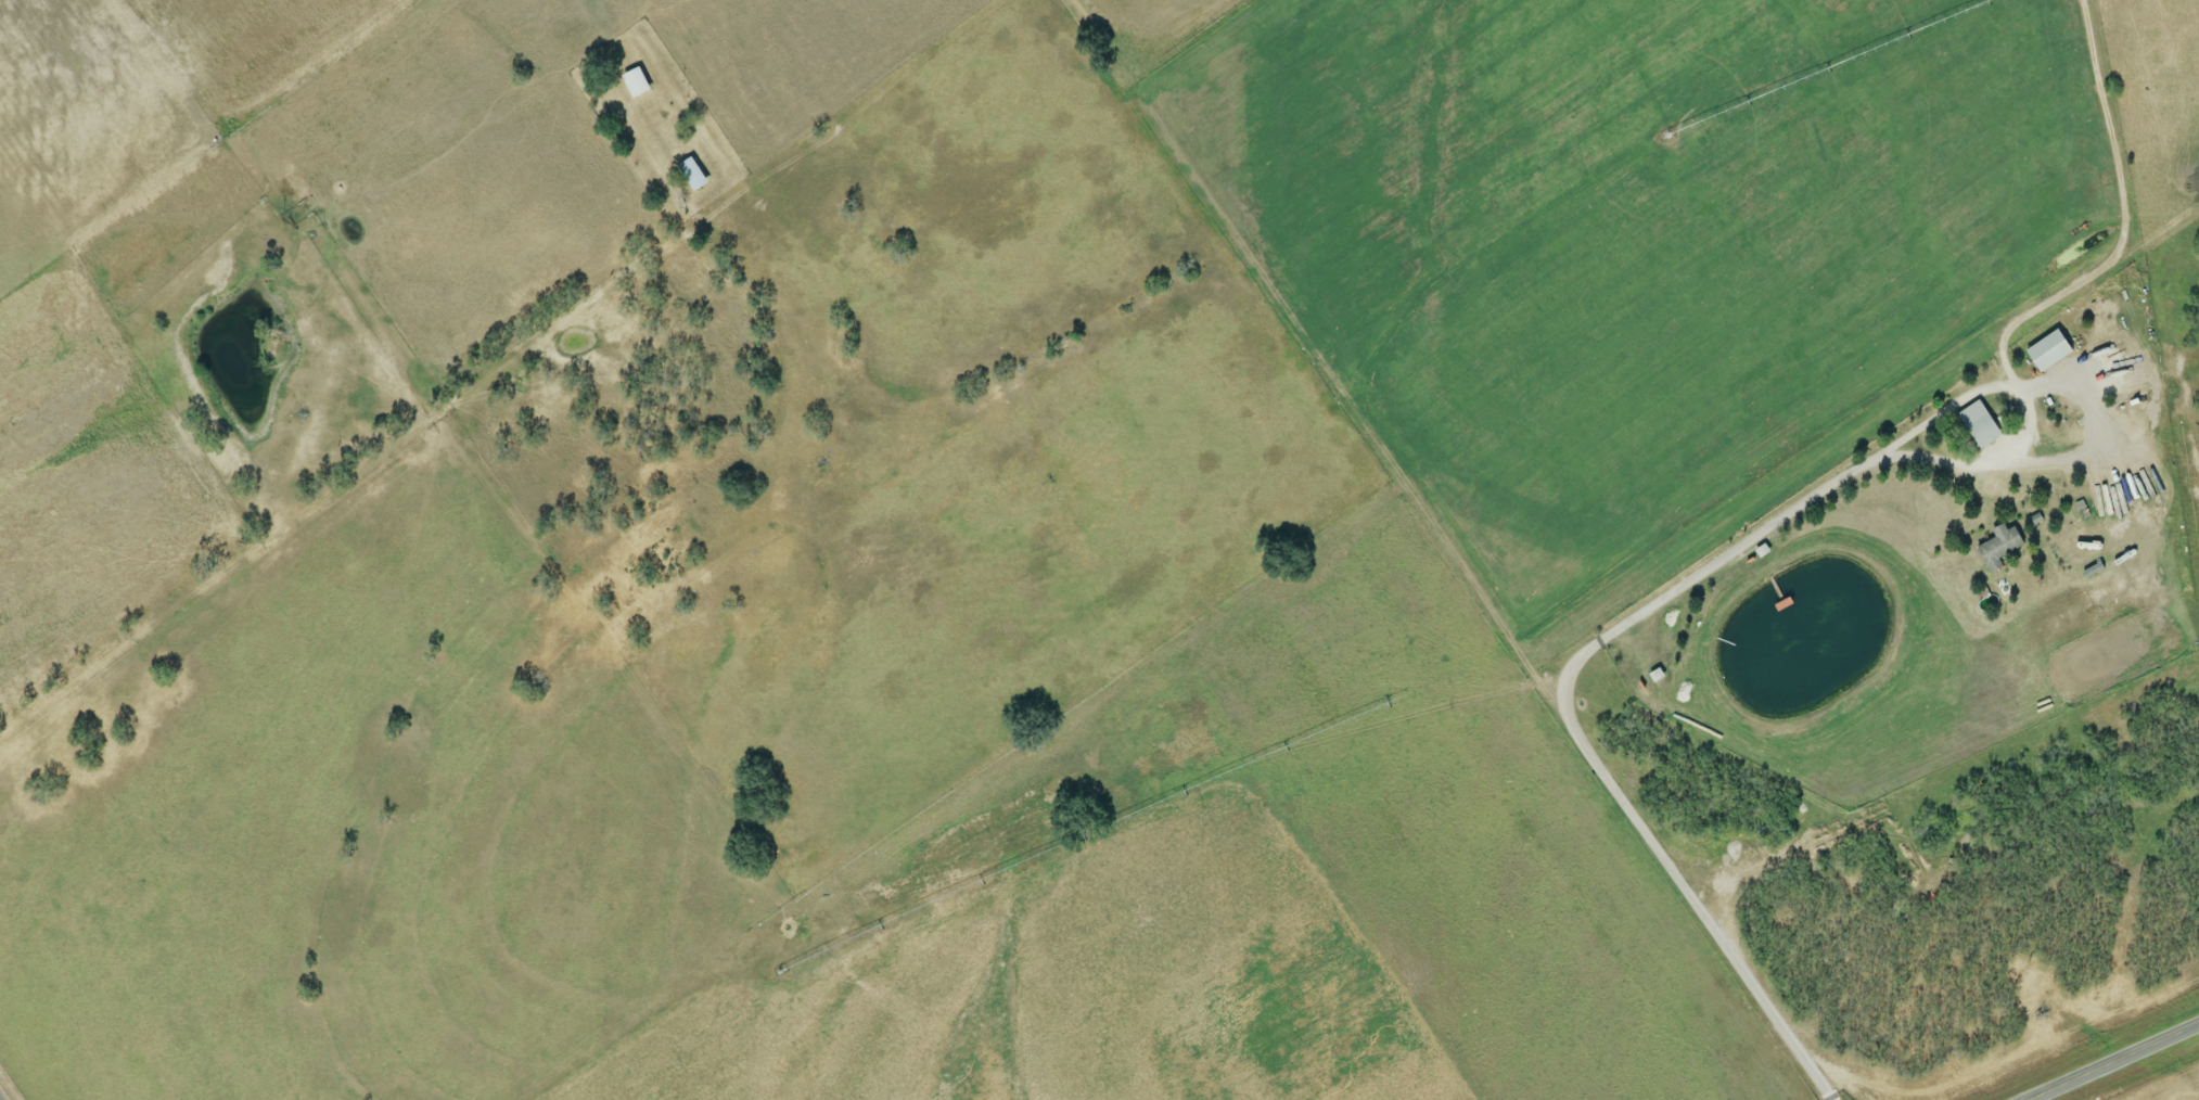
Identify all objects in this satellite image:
building: (640, 81)
building: (696, 174)
road: (392, 330)
building: (2044, 349)
road: (1927, 378)
building: (1976, 423)
road: (392, 452)
building: (1996, 546)
road: (1527, 656)
road: (1567, 686)
road: (2111, 1061)

